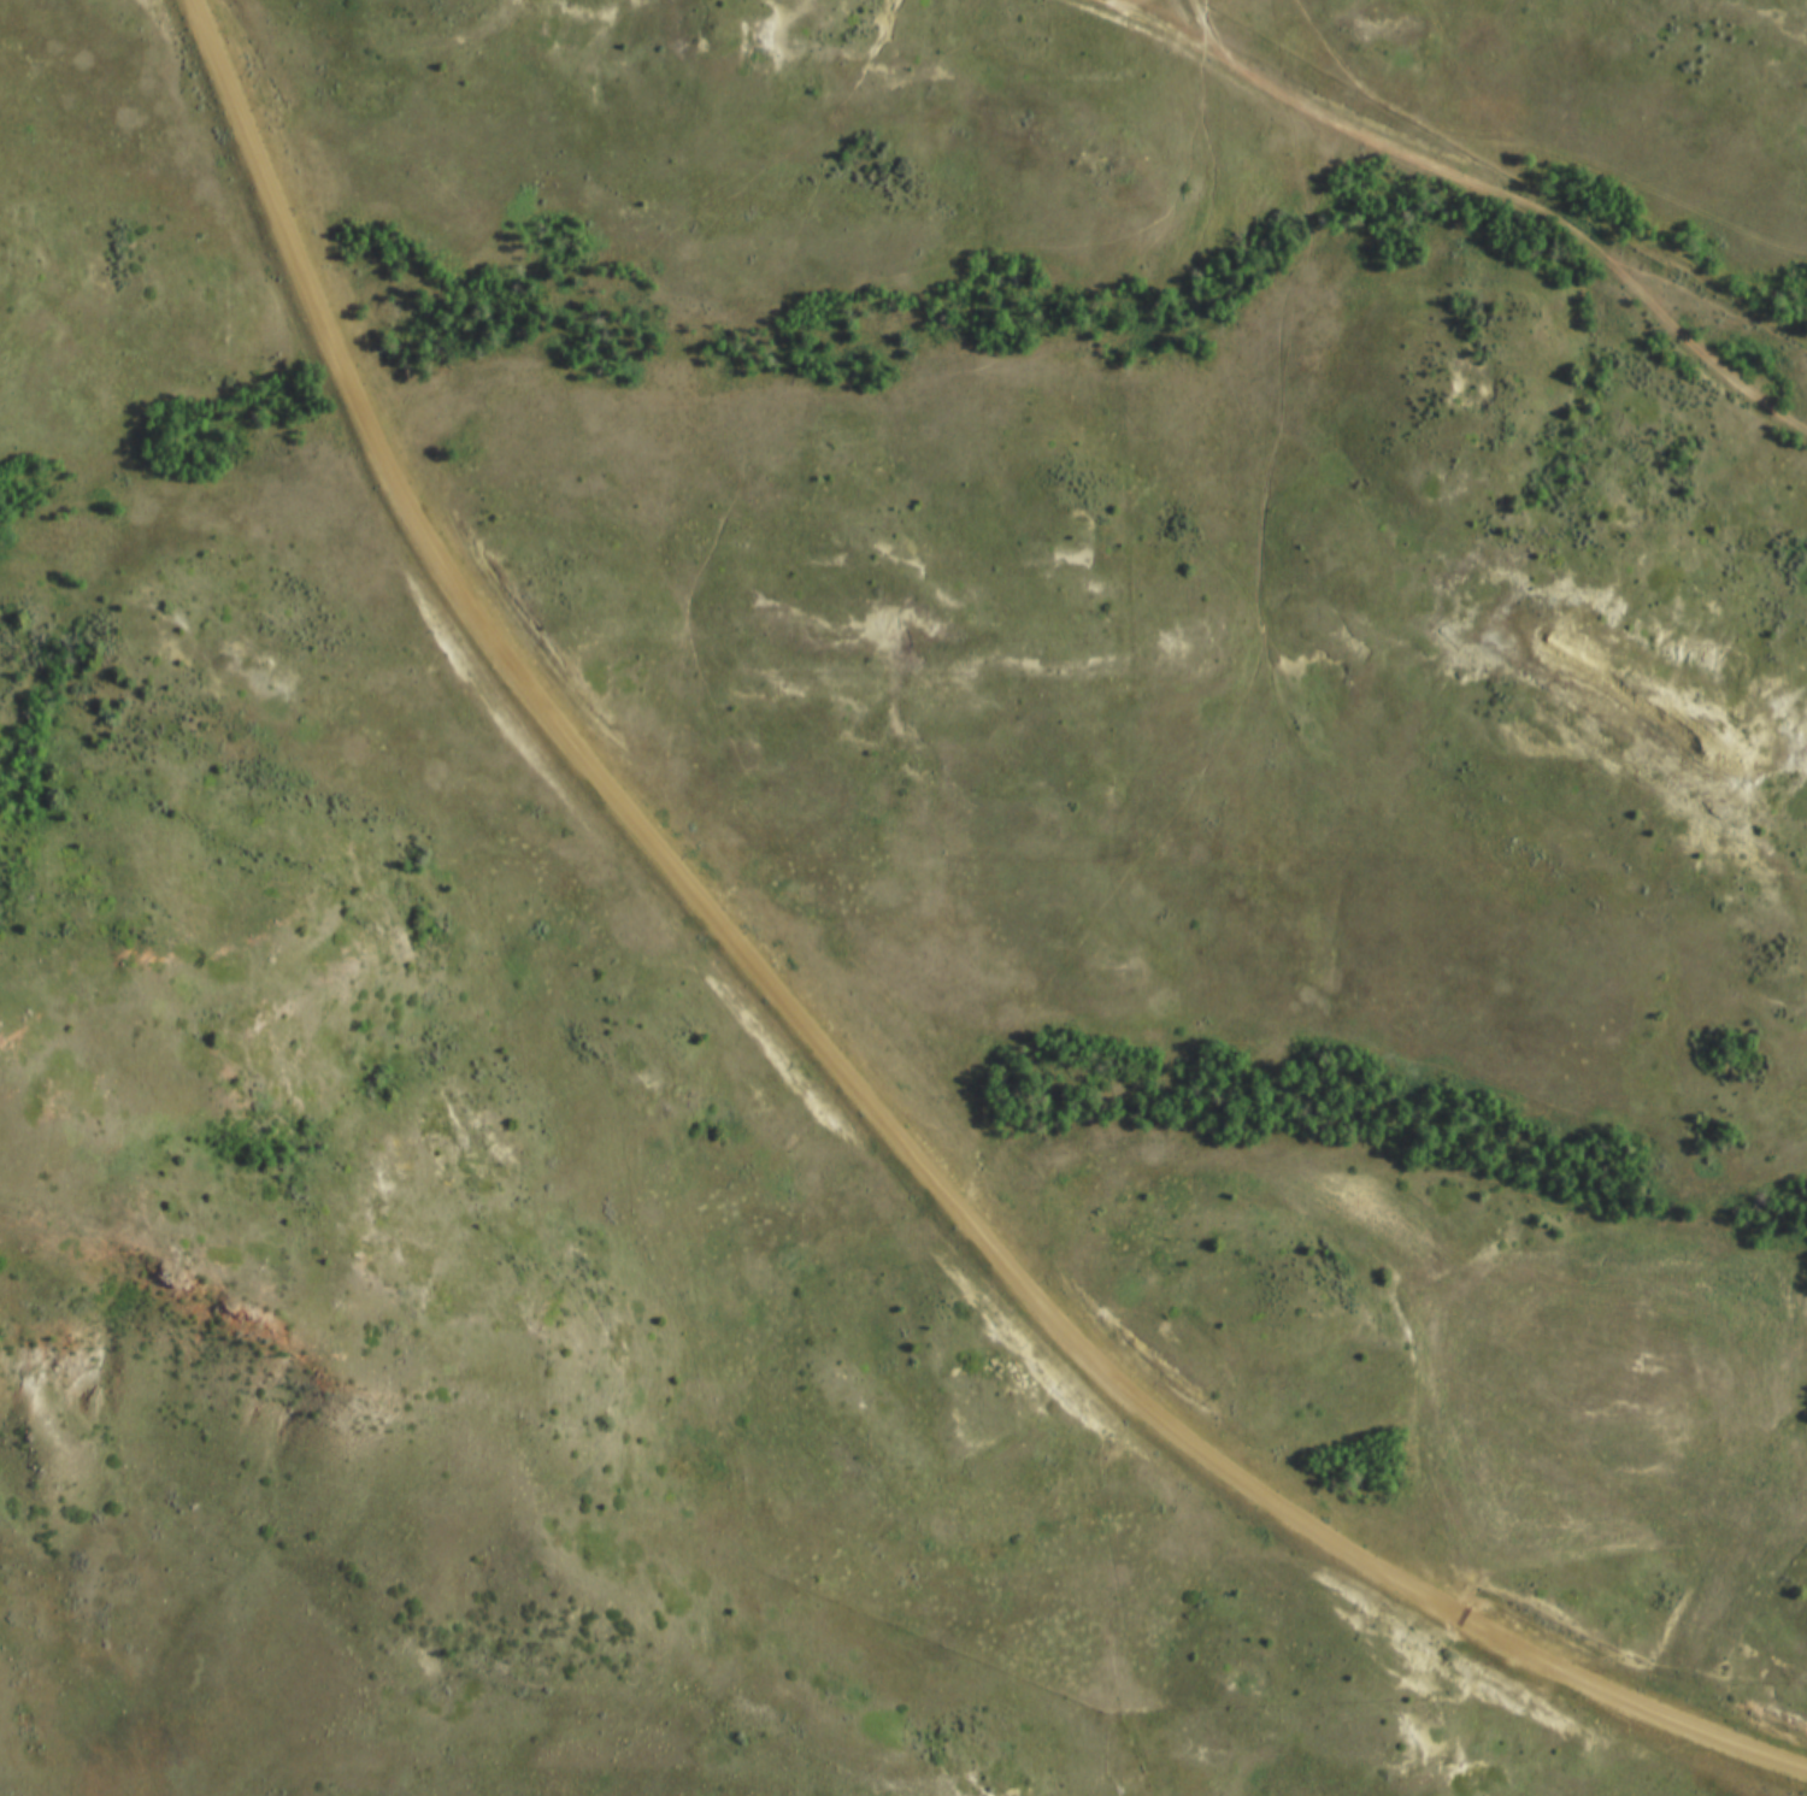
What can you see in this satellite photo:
road: (1116, 1)
road: (1471, 186)
road: (825, 1050)

